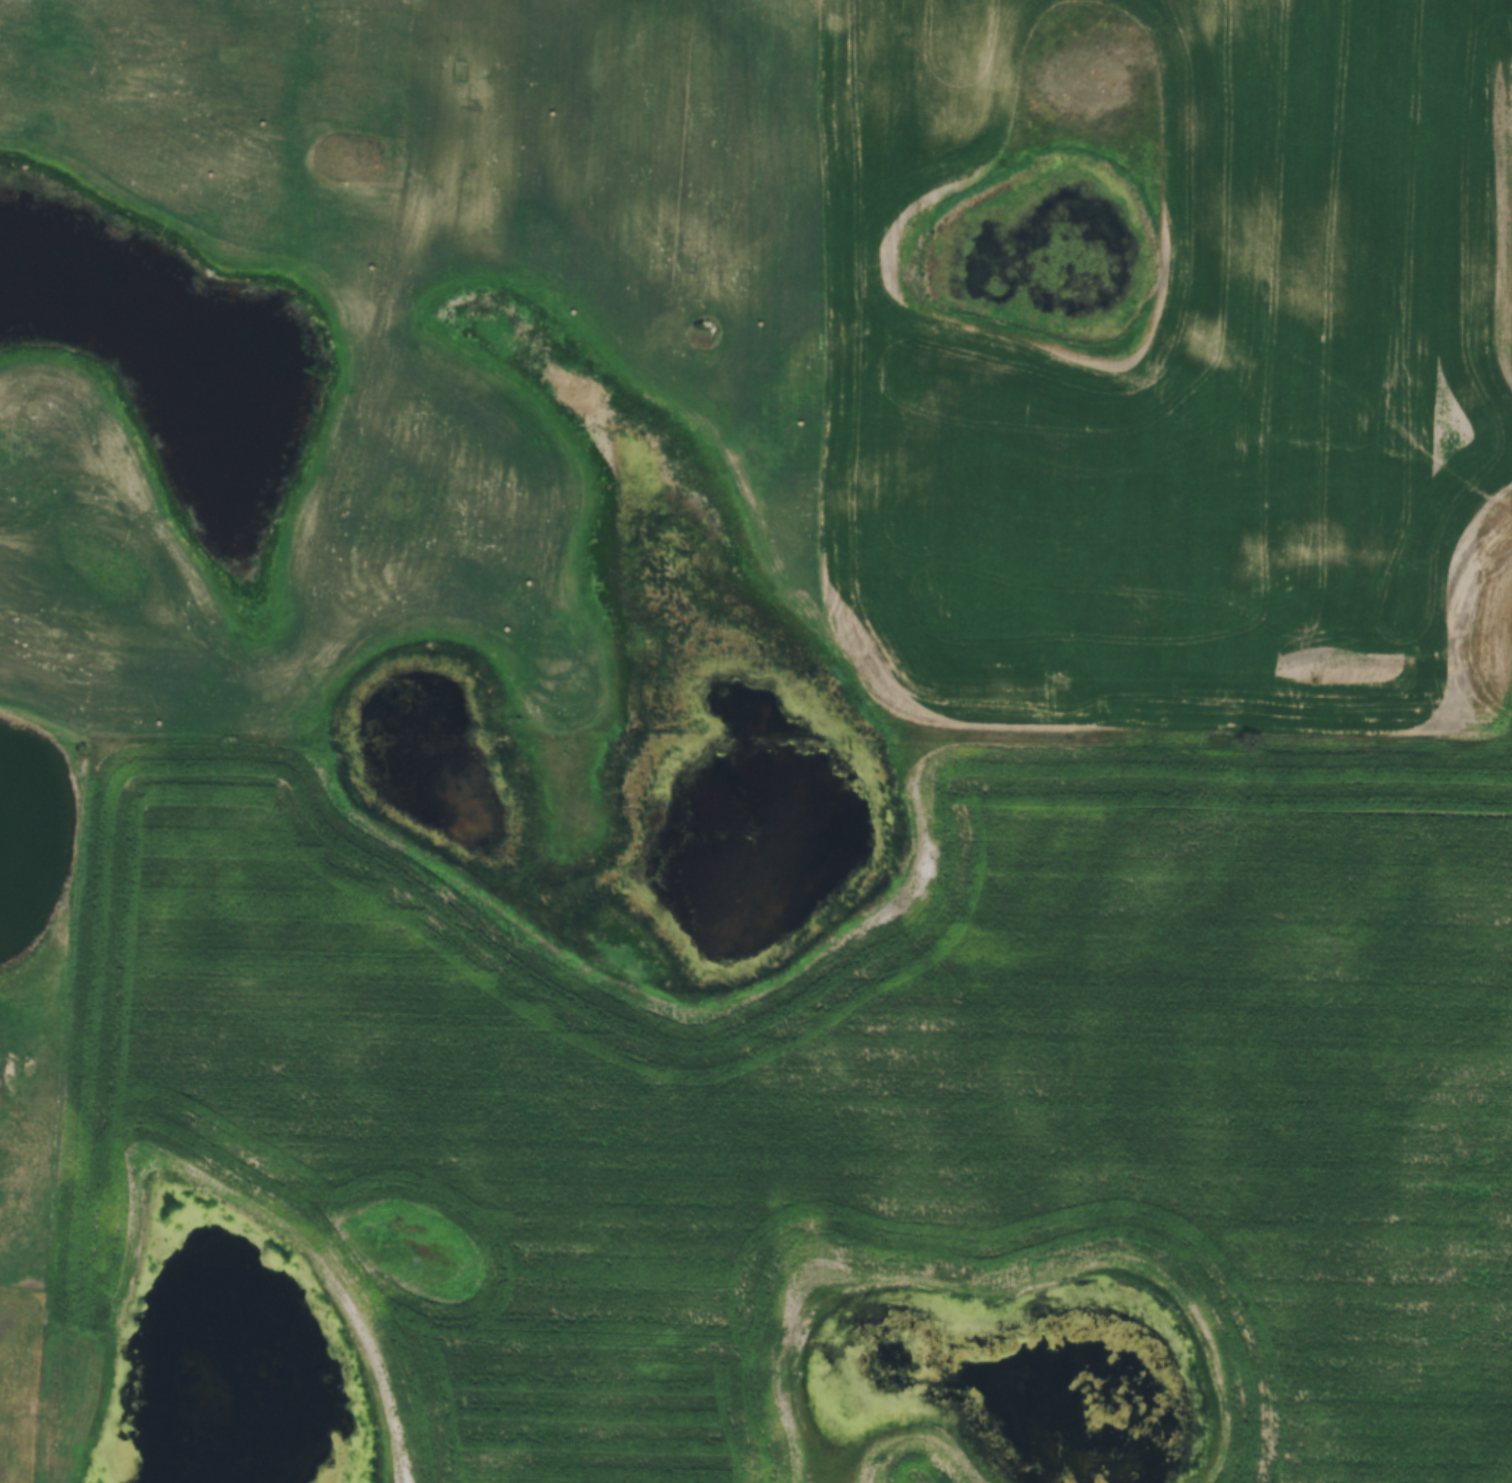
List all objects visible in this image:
road: (14, 1414)

